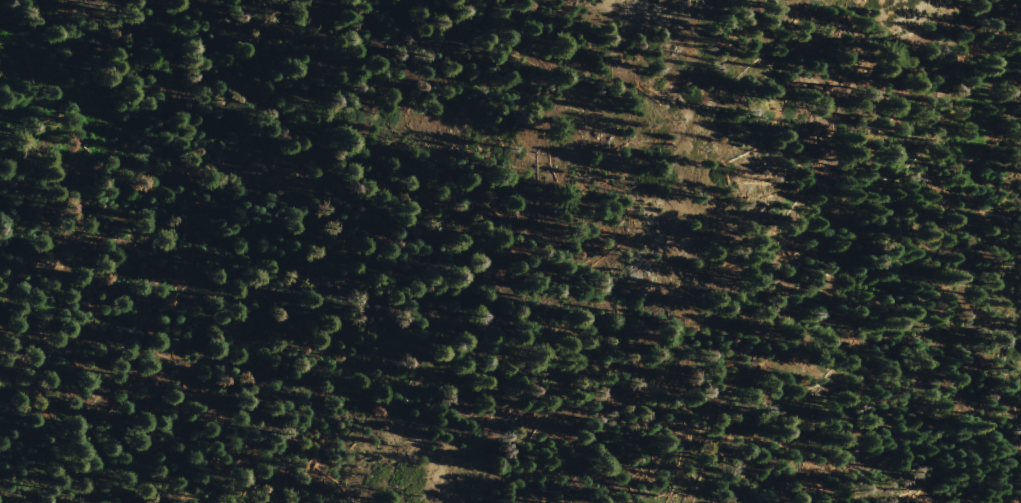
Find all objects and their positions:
road: (716, 253)

